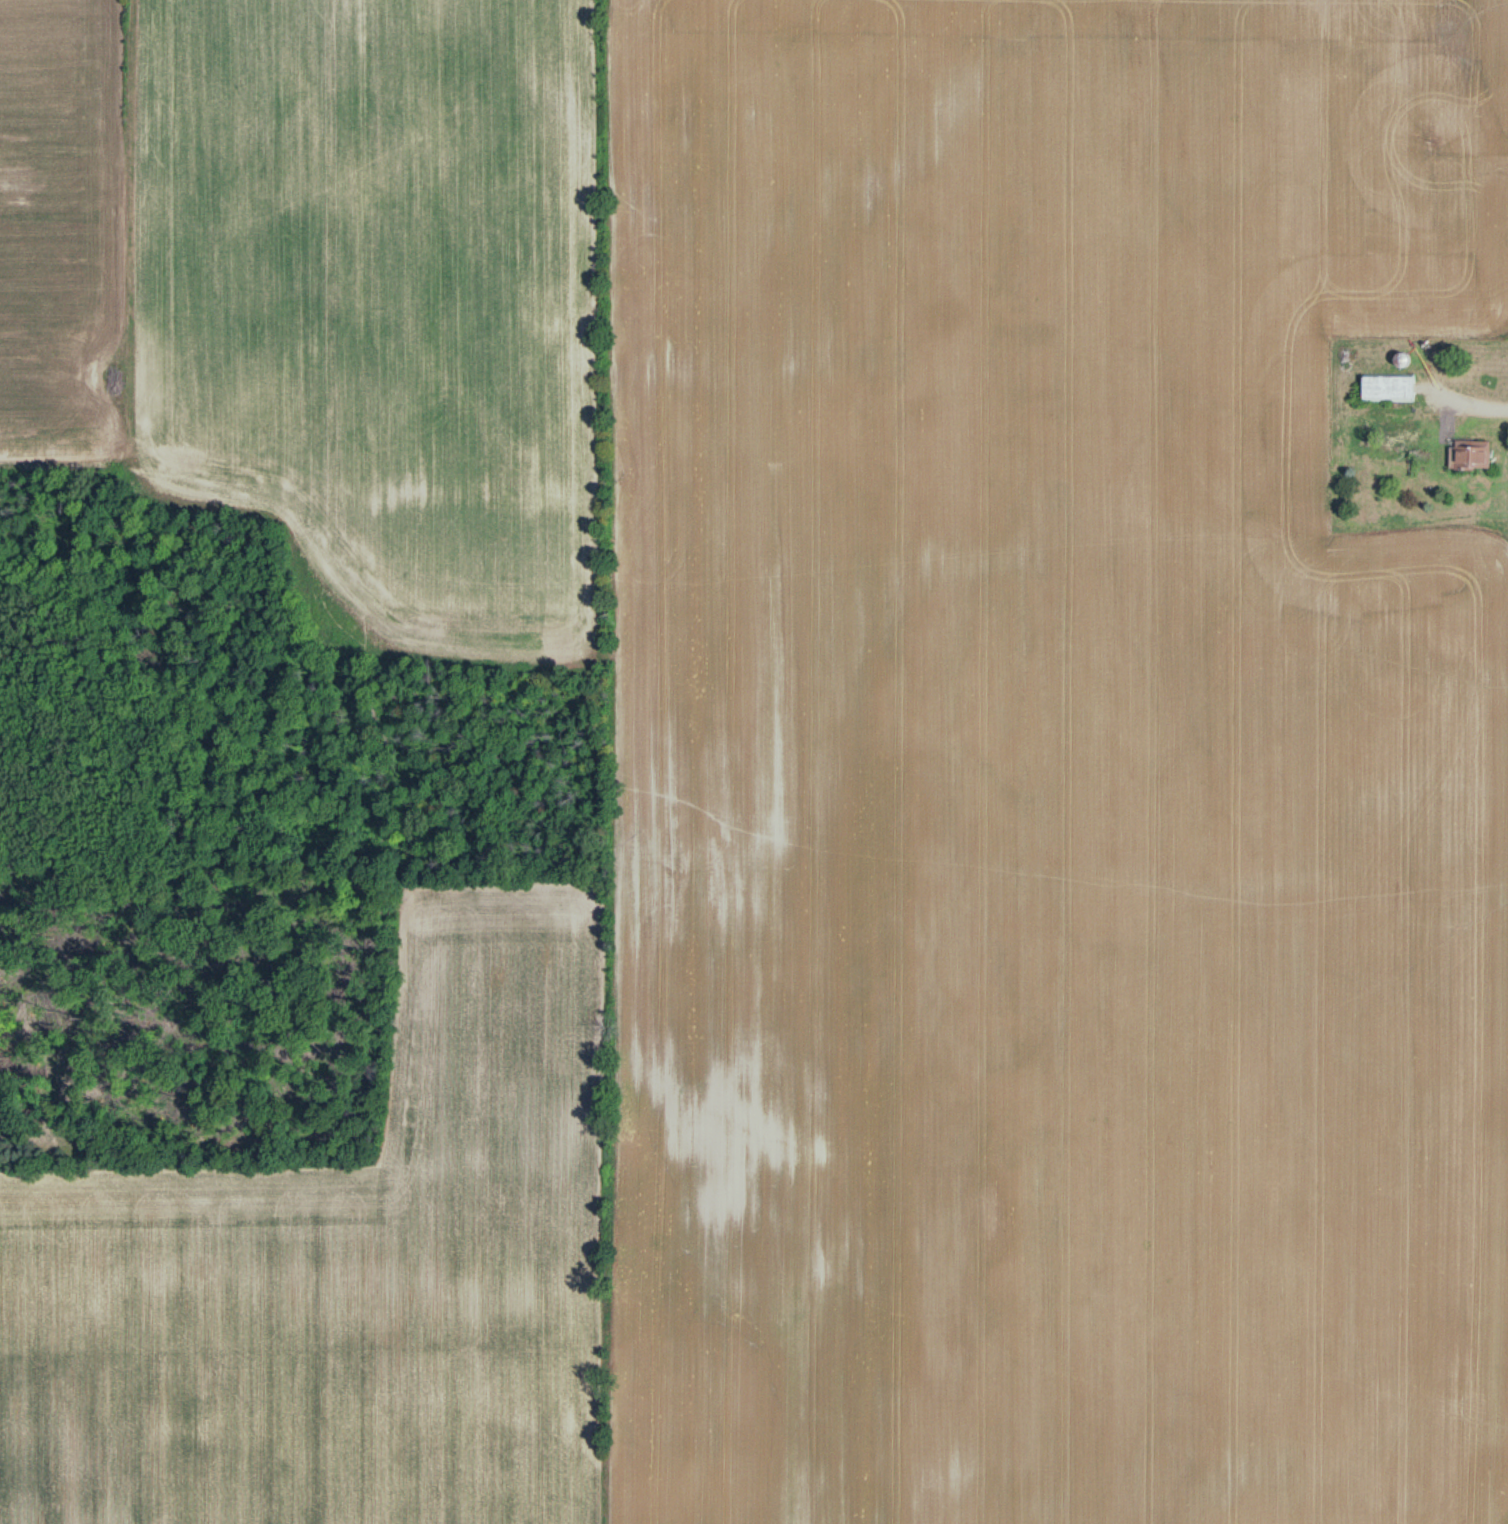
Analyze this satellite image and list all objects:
building: (1401, 363)
building: (1388, 392)
building: (1403, 441)
building: (1470, 458)

